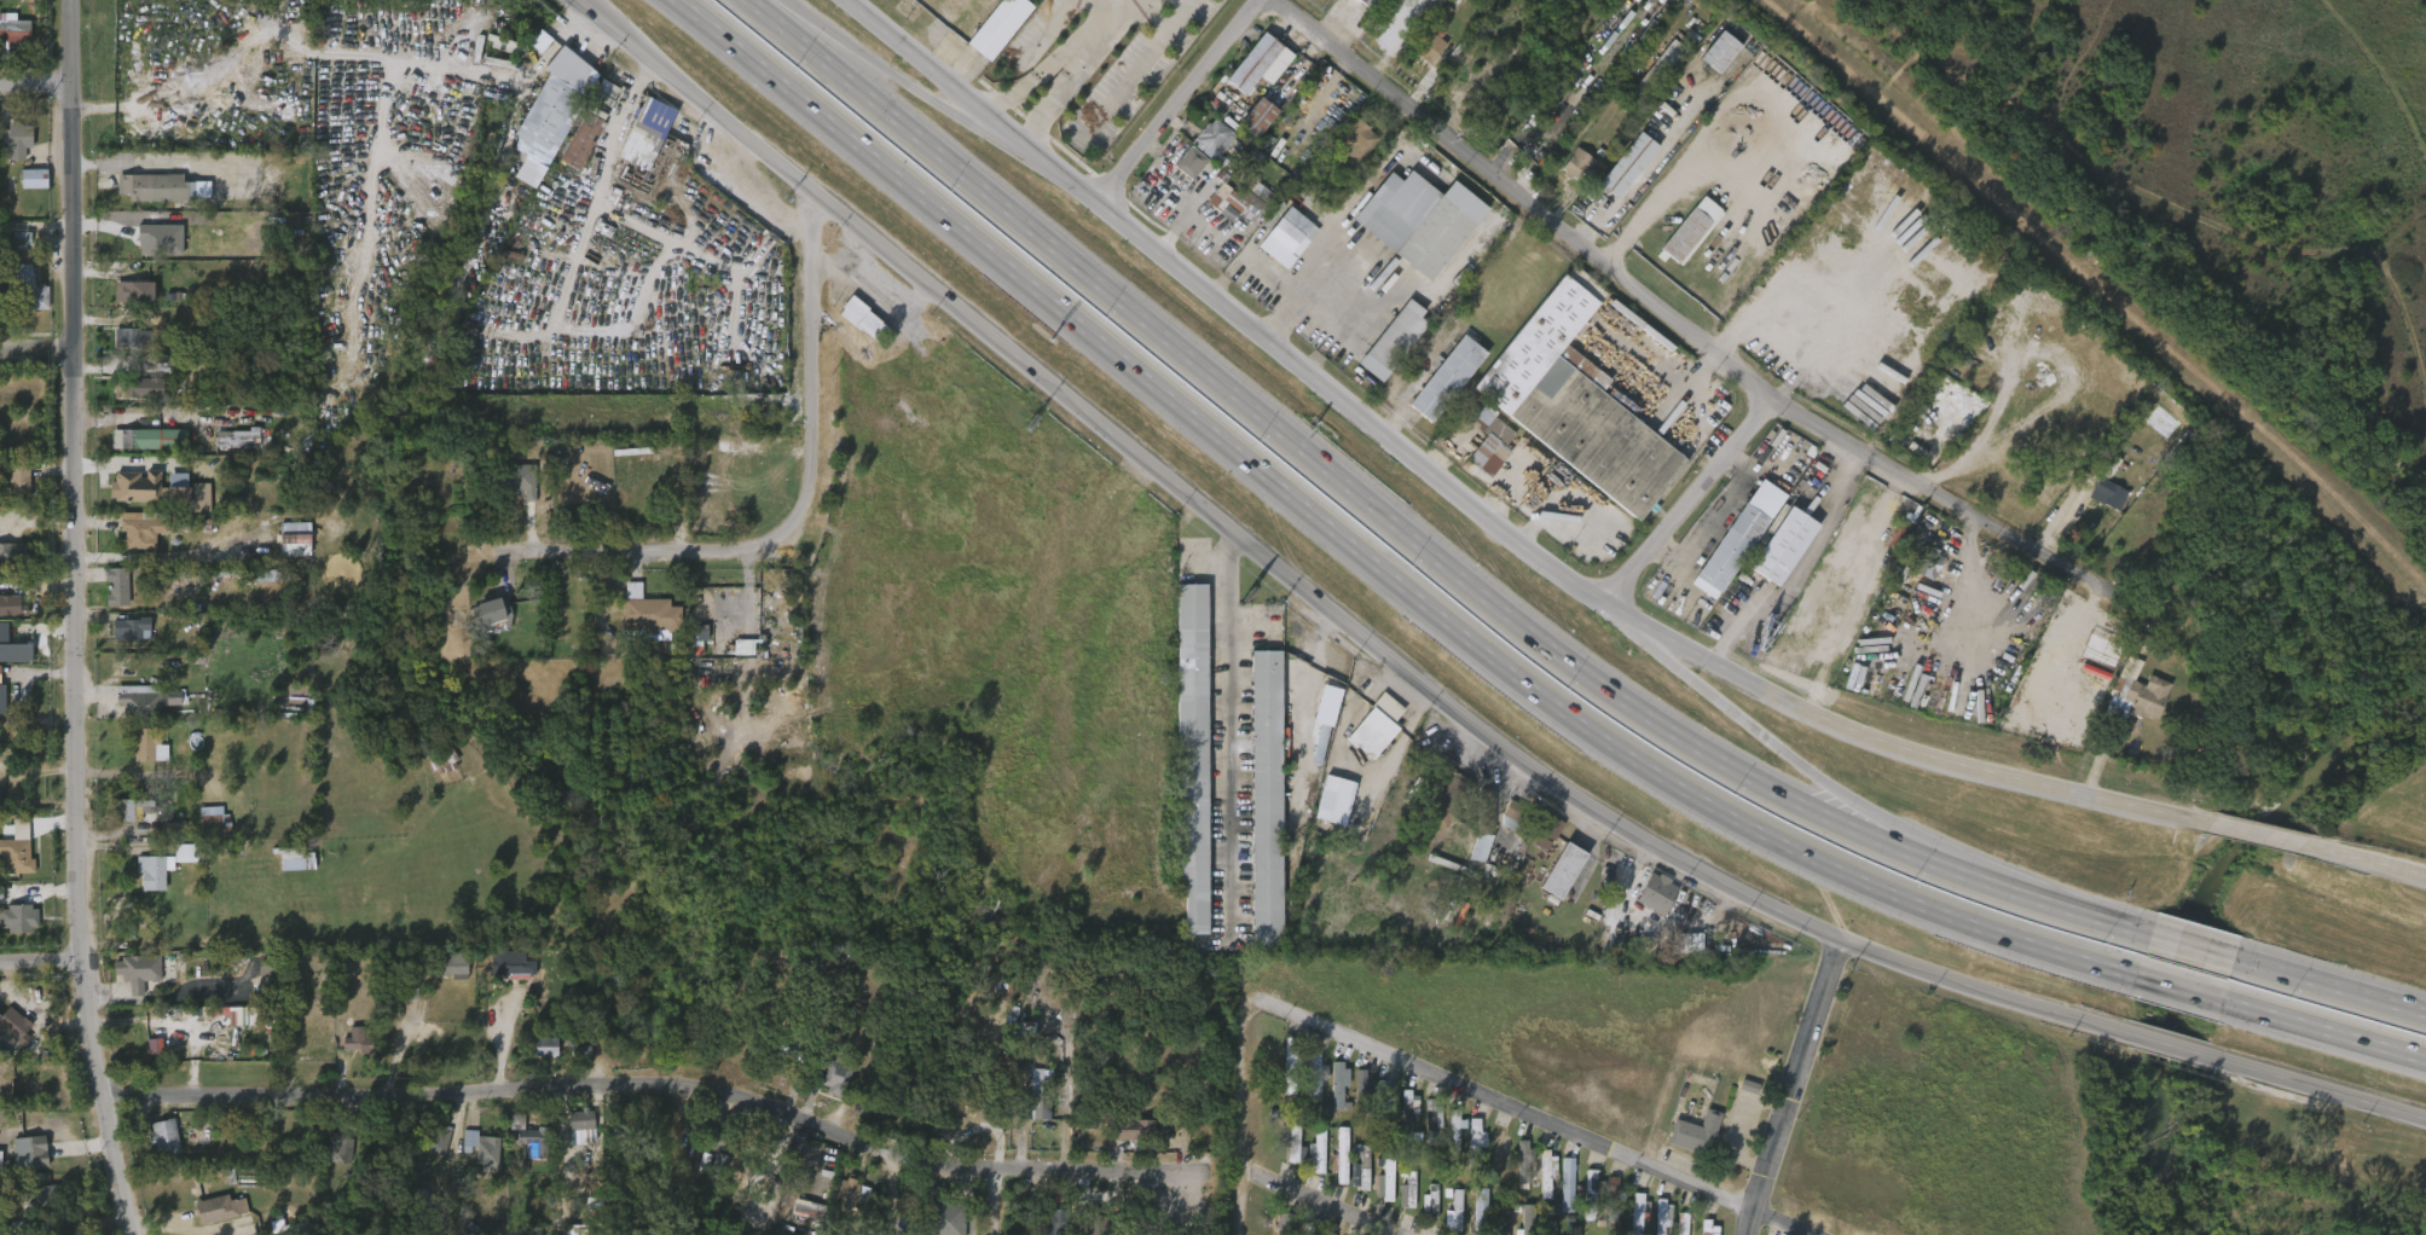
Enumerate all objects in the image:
building: (1366, 2)
building: (11, 4)
road: (794, 17)
road: (1094, 23)
building: (1000, 28)
building: (13, 29)
building: (10, 44)
building: (1426, 46)
building: (1716, 50)
building: (532, 53)
building: (1251, 62)
building: (1710, 64)
building: (572, 66)
building: (1655, 73)
road: (887, 74)
road: (1032, 77)
road: (36, 92)
road: (1055, 97)
road: (1176, 100)
building: (549, 114)
building: (1253, 117)
road: (982, 124)
building: (585, 140)
building: (15, 141)
building: (1216, 143)
building: (1357, 143)
building: (645, 146)
road: (1443, 160)
building: (1188, 161)
building: (1575, 163)
building: (1625, 163)
building: (1181, 175)
building: (1568, 176)
park: (2223, 176)
road: (156, 178)
building: (35, 179)
building: (1252, 182)
park: (2217, 185)
building: (25, 191)
building: (154, 199)
building: (1234, 202)
building: (1221, 216)
building: (1415, 219)
road: (627, 221)
road: (37, 226)
building: (1690, 230)
building: (1289, 238)
building: (134, 240)
building: (151, 253)
building: (13, 254)
building: (28, 289)
railway: (2103, 289)
building: (135, 290)
building: (2, 294)
building: (22, 303)
building: (126, 303)
building: (863, 318)
road: (1683, 326)
building: (853, 331)
building: (134, 337)
building: (1390, 341)
building: (120, 348)
road: (39, 359)
building: (1443, 377)
building: (132, 387)
road: (814, 394)
building: (1573, 400)
building: (122, 401)
building: (220, 411)
building: (241, 436)
building: (135, 439)
building: (1487, 439)
building: (189, 440)
road: (1298, 447)
building: (228, 451)
building: (140, 452)
building: (17, 479)
building: (519, 482)
building: (134, 486)
building: (2109, 494)
building: (127, 499)
road: (1687, 504)
building: (178, 506)
building: (2098, 506)
road: (1475, 511)
building: (1739, 533)
building: (135, 534)
building: (296, 539)
building: (1781, 545)
building: (285, 551)
building: (11, 553)
road: (1365, 557)
road: (618, 558)
building: (1930, 559)
building: (2, 569)
building: (116, 586)
building: (256, 587)
road: (1309, 598)
building: (109, 599)
building: (10, 604)
building: (492, 613)
building: (650, 615)
building: (6, 617)
road: (79, 620)
building: (128, 627)
building: (486, 627)
building: (641, 627)
road: (1639, 636)
building: (122, 640)
building: (11, 665)
building: (1332, 690)
building: (2135, 691)
building: (1, 697)
building: (138, 703)
building: (166, 711)
road: (1743, 720)
building: (1378, 726)
road: (1217, 732)
building: (147, 746)
building: (1188, 753)
building: (444, 759)
building: (141, 760)
building: (1449, 794)
building: (1264, 798)
road: (1848, 808)
building: (128, 810)
building: (1487, 811)
building: (1324, 812)
building: (1515, 818)
building: (122, 822)
building: (215, 824)
building: (1547, 824)
building: (205, 833)
road: (2259, 835)
building: (1475, 837)
building: (1538, 846)
building: (17, 856)
building: (299, 859)
road: (2364, 860)
building: (1558, 868)
building: (154, 871)
building: (284, 872)
building: (1656, 891)
road: (2015, 892)
building: (1646, 905)
building: (19, 917)
building: (15, 930)
road: (2190, 945)
building: (513, 962)
building: (458, 964)
road: (42, 967)
building: (129, 970)
building: (446, 976)
road: (2329, 985)
road: (2179, 988)
building: (16, 1024)
road: (2323, 1030)
building: (10, 1038)
building: (359, 1040)
building: (549, 1045)
building: (793, 1045)
road: (2172, 1045)
building: (746, 1048)
building: (353, 1054)
building: (537, 1059)
building: (572, 1065)
building: (1289, 1065)
building: (1158, 1068)
building: (836, 1077)
building: (1279, 1078)
building: (1312, 1079)
road: (660, 1082)
building: (1334, 1084)
road: (2315, 1086)
road: (1799, 1088)
building: (826, 1089)
building: (1303, 1091)
building: (1360, 1097)
building: (1328, 1100)
building: (1383, 1102)
building: (1041, 1103)
building: (983, 1104)
building: (1406, 1112)
road: (1240, 1117)
road: (1545, 1117)
building: (1431, 1118)
building: (581, 1119)
building: (1399, 1125)
building: (1454, 1129)
building: (572, 1132)
building: (1423, 1132)
building: (1693, 1132)
building: (166, 1135)
building: (1135, 1135)
building: (717, 1136)
building: (531, 1137)
building: (1291, 1137)
building: (441, 1141)
building: (1473, 1141)
building: (1444, 1144)
building: (156, 1148)
building: (338, 1149)
building: (482, 1149)
building: (519, 1149)
building: (1316, 1149)
building: (1465, 1149)
building: (1498, 1150)
building: (428, 1152)
building: (1338, 1155)
building: (1283, 1156)
building: (35, 1158)
building: (330, 1158)
building: (473, 1161)
building: (1308, 1162)
building: (1488, 1162)
building: (1513, 1164)
building: (21, 1165)
building: (1330, 1169)
building: (1360, 1169)
building: (1545, 1172)
building: (710, 1173)
building: (1350, 1179)
building: (1384, 1181)
building: (1567, 1182)
building: (1536, 1184)
building: (852, 1191)
building: (1580, 1193)
building: (1590, 1193)
building: (1376, 1194)
building: (1558, 1195)
building: (35, 1198)
road: (1321, 1200)
building: (1397, 1200)
building: (1603, 1200)
building: (1611, 1200)
building: (840, 1205)
building: (31, 1208)
building: (219, 1210)
building: (1420, 1212)
building: (1453, 1212)
building: (1482, 1212)
building: (1637, 1213)
building: (1661, 1216)
building: (1471, 1217)
building: (946, 1218)
building: (1046, 1219)
building: (1627, 1219)
building: (210, 1220)
building: (1444, 1220)
building: (1501, 1222)
building: (1528, 1222)
building: (1281, 1223)
building: (1654, 1224)
building: (1096, 1225)
building: (1517, 1225)
building: (1548, 1228)
building: (1273, 1230)
building: (1573, 1230)
building: (1672, 1230)
building: (1696, 1233)
building: (1079, 1234)
building: (1327, 1234)

